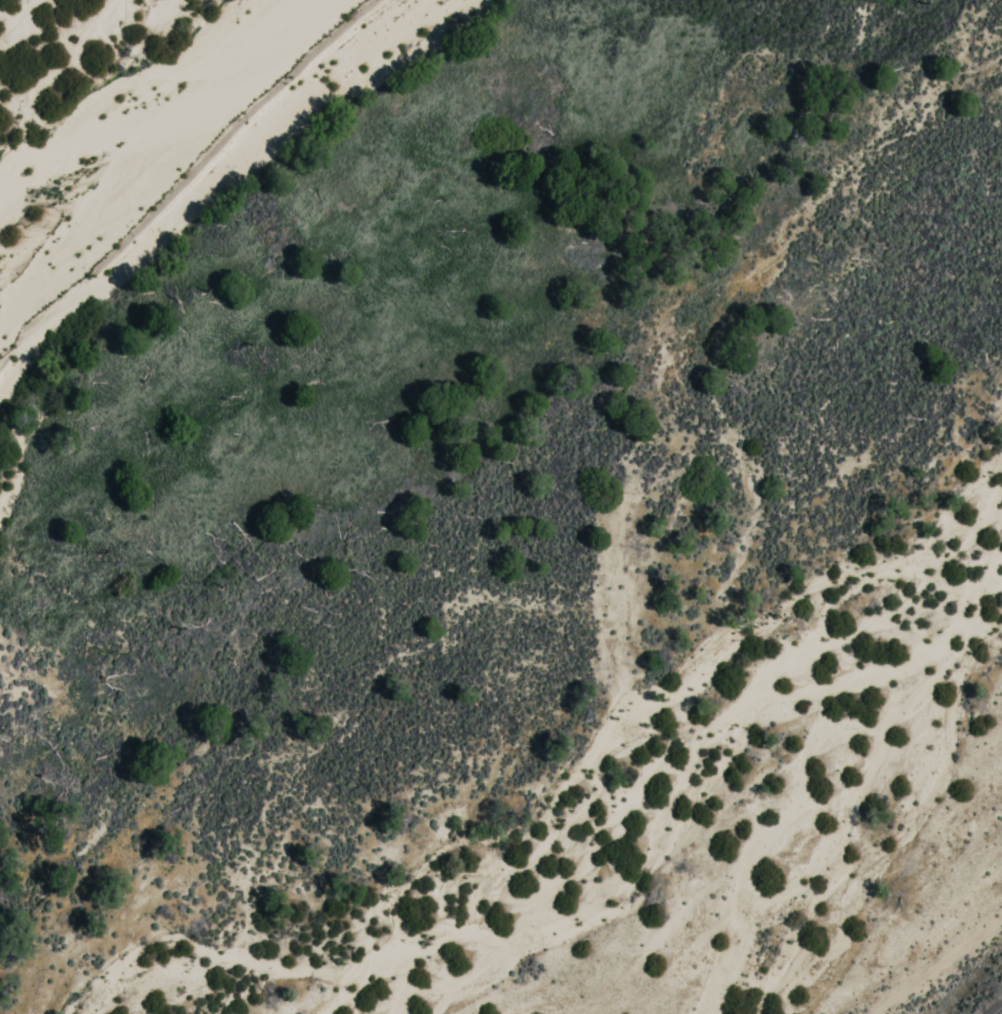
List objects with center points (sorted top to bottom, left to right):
river: (298, 265)
road: (936, 967)
railway: (998, 1010)

